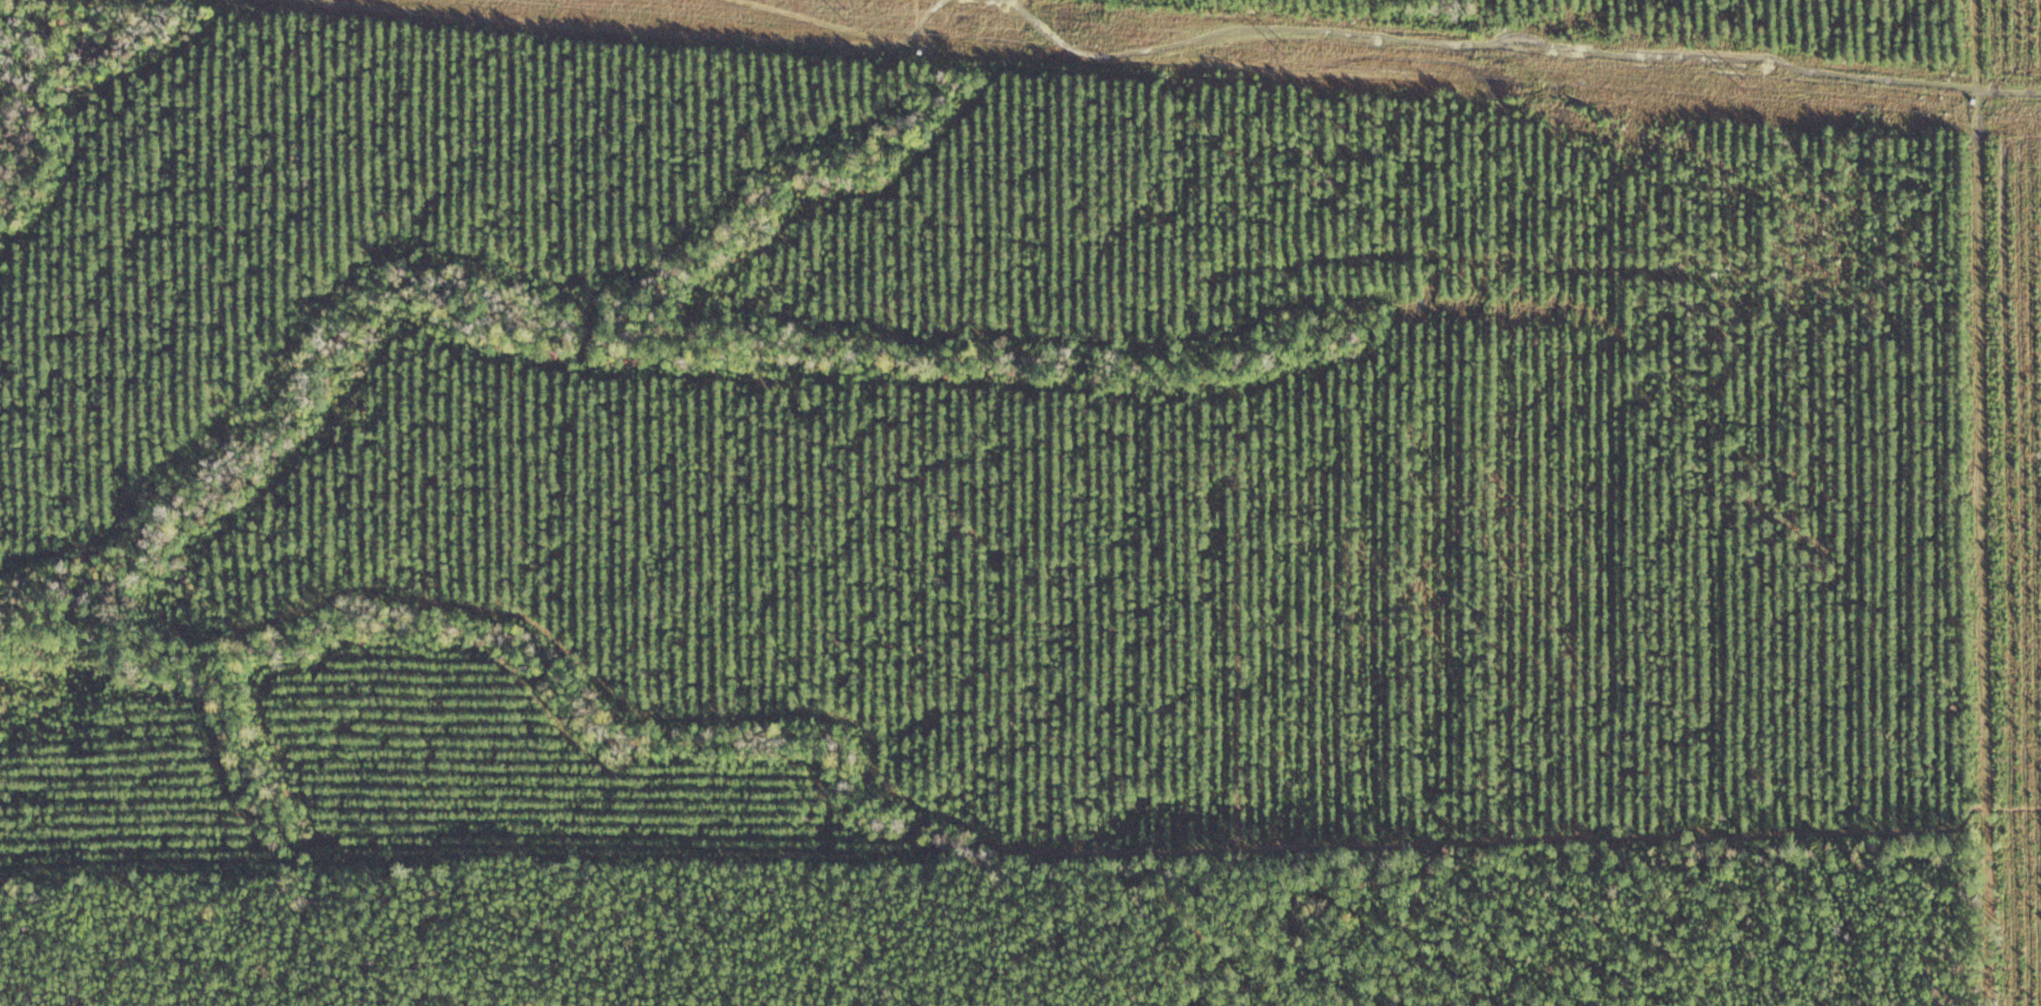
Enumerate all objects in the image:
power tower: (846, 12)
power tower: (1282, 46)
power tower: (1744, 83)

